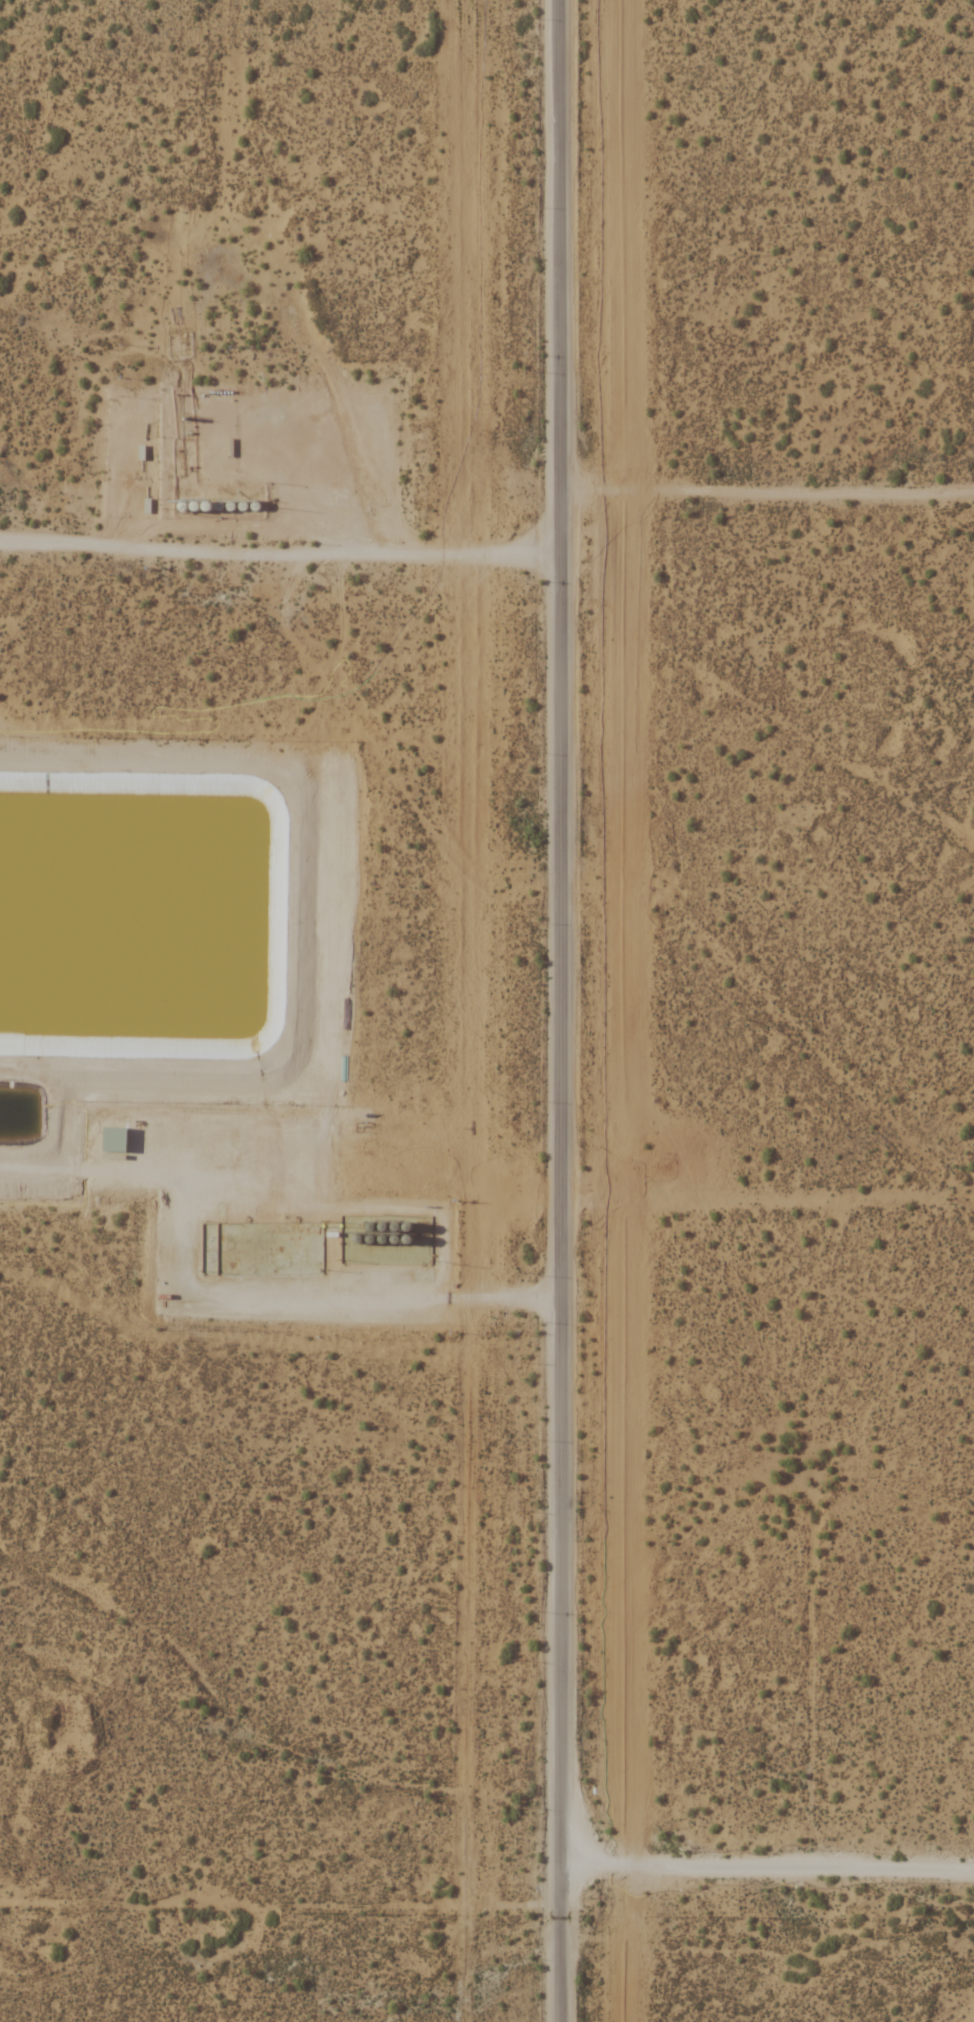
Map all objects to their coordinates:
road: (769, 487)
road: (283, 548)
road: (566, 1010)
building: (369, 1228)
storage tank: (369, 1228)
building: (394, 1228)
storage tank: (394, 1228)
building: (406, 1228)
storage tank: (406, 1228)
building: (381, 1229)
storage tank: (381, 1229)
building: (357, 1241)
storage tank: (357, 1241)
building: (369, 1241)
storage tank: (369, 1241)
building: (394, 1241)
storage tank: (394, 1241)
building: (407, 1241)
storage tank: (407, 1241)
building: (381, 1242)
storage tank: (381, 1242)
road: (292, 1296)
road: (768, 1867)

